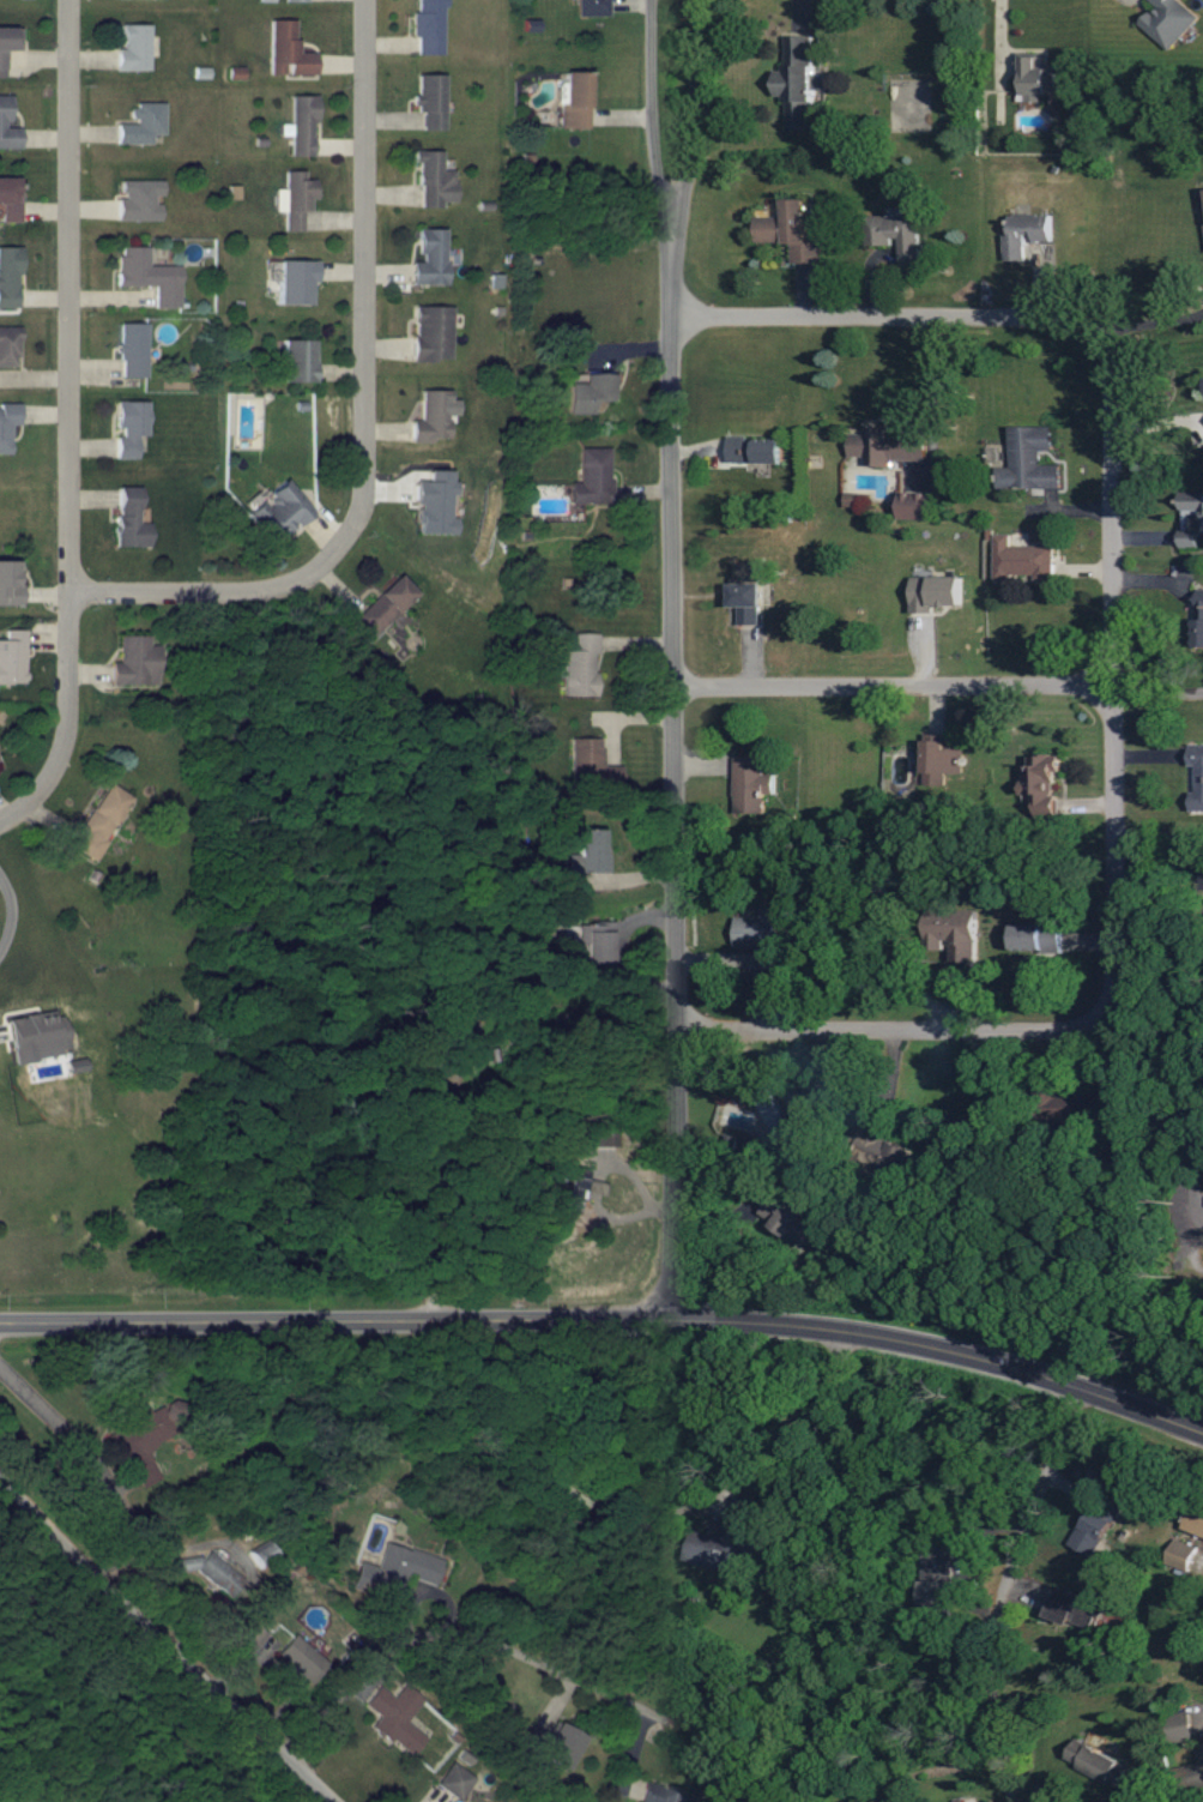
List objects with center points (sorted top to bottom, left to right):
building: (295, 0)
building: (592, 7)
building: (1168, 22)
building: (428, 26)
building: (7, 44)
building: (134, 49)
building: (288, 50)
building: (201, 73)
building: (235, 73)
building: (1035, 77)
building: (798, 84)
building: (576, 100)
building: (430, 101)
road: (646, 110)
road: (685, 110)
building: (141, 123)
building: (302, 126)
building: (7, 127)
building: (433, 180)
building: (1202, 197)
building: (8, 199)
building: (294, 199)
building: (138, 200)
building: (790, 233)
building: (1026, 234)
building: (896, 235)
building: (430, 258)
building: (149, 276)
building: (8, 277)
building: (295, 282)
road: (356, 297)
road: (1057, 324)
road: (1148, 330)
building: (433, 333)
building: (8, 346)
building: (132, 350)
building: (298, 361)
building: (588, 393)
road: (67, 410)
building: (434, 416)
building: (7, 424)
building: (129, 427)
building: (887, 446)
building: (752, 451)
building: (1029, 460)
building: (592, 477)
building: (435, 504)
building: (1192, 504)
building: (914, 506)
building: (278, 512)
building: (128, 519)
building: (1189, 538)
building: (1022, 560)
building: (8, 584)
road: (189, 590)
building: (935, 592)
building: (746, 593)
building: (386, 605)
building: (1199, 617)
building: (12, 656)
building: (134, 662)
building: (580, 664)
road: (881, 695)
road: (1100, 704)
road: (1151, 709)
building: (939, 759)
building: (590, 763)
road: (664, 763)
building: (1197, 775)
building: (1041, 779)
building: (750, 784)
road: (12, 815)
building: (101, 820)
road: (1161, 834)
building: (587, 850)
road: (1102, 874)
road: (12, 914)
building: (955, 930)
building: (1036, 935)
building: (760, 936)
building: (597, 942)
building: (461, 1029)
road: (875, 1032)
building: (56, 1035)
building: (74, 1065)
building: (1074, 1107)
building: (786, 1121)
building: (879, 1144)
building: (572, 1189)
building: (788, 1218)
road: (609, 1310)
road: (52, 1417)
building: (140, 1441)
building: (1195, 1520)
building: (1094, 1525)
building: (725, 1537)
building: (1181, 1554)
building: (397, 1568)
building: (213, 1572)
building: (938, 1581)
road: (1005, 1585)
building: (1074, 1608)
road: (470, 1628)
building: (249, 1635)
road: (182, 1639)
building: (300, 1657)
building: (394, 1717)
building: (1179, 1726)
building: (550, 1744)
building: (1102, 1765)
building: (1197, 1776)
building: (453, 1780)
building: (663, 1794)

